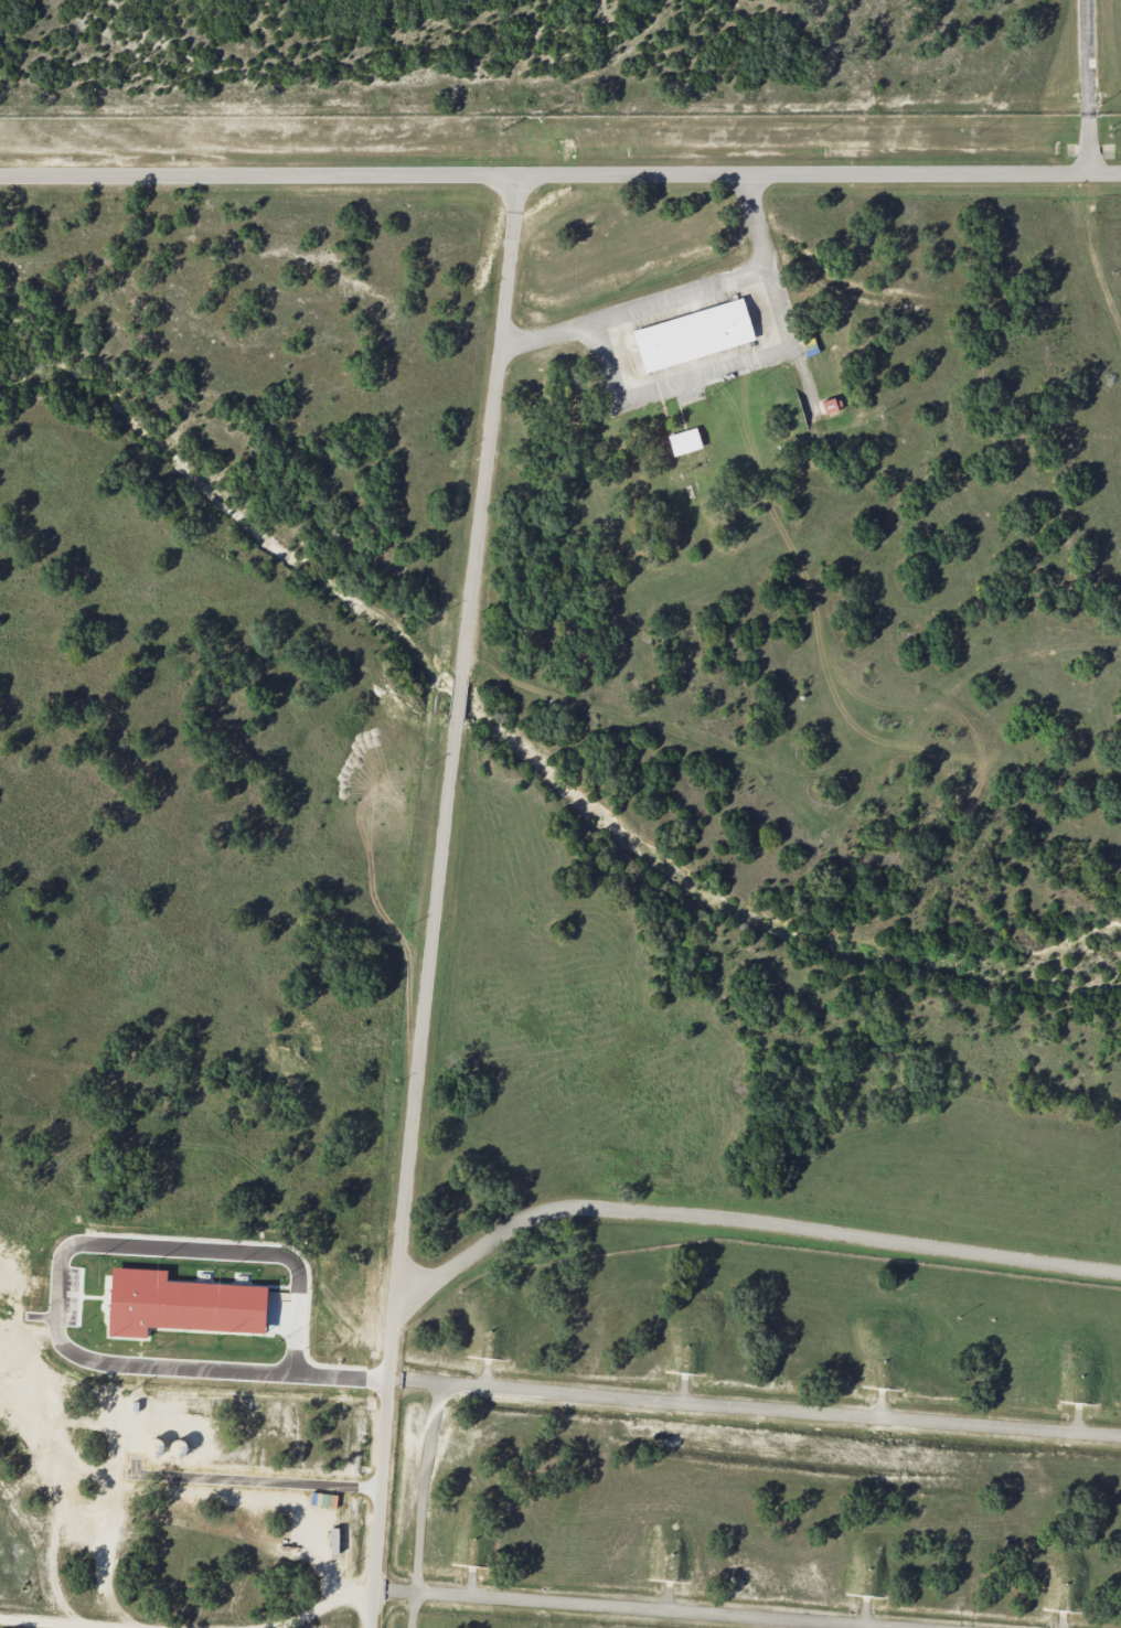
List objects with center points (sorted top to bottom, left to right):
road: (1088, 86)
road: (559, 174)
road: (674, 291)
building: (693, 334)
building: (748, 356)
building: (829, 406)
road: (488, 426)
building: (684, 441)
road: (458, 697)
road: (409, 1172)
road: (739, 1220)
road: (755, 1410)
road: (421, 1506)
road: (637, 1607)
road: (313, 1611)
road: (52, 1624)

